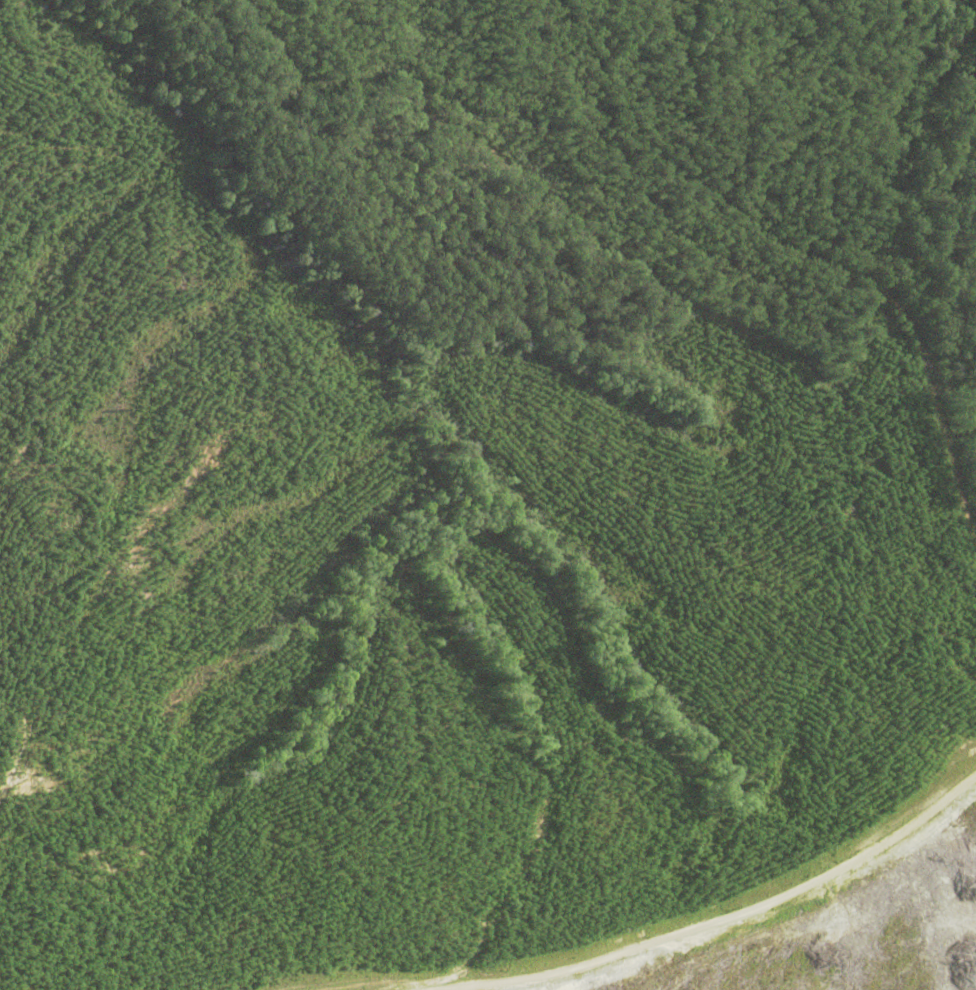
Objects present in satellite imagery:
road: (632, 942)

